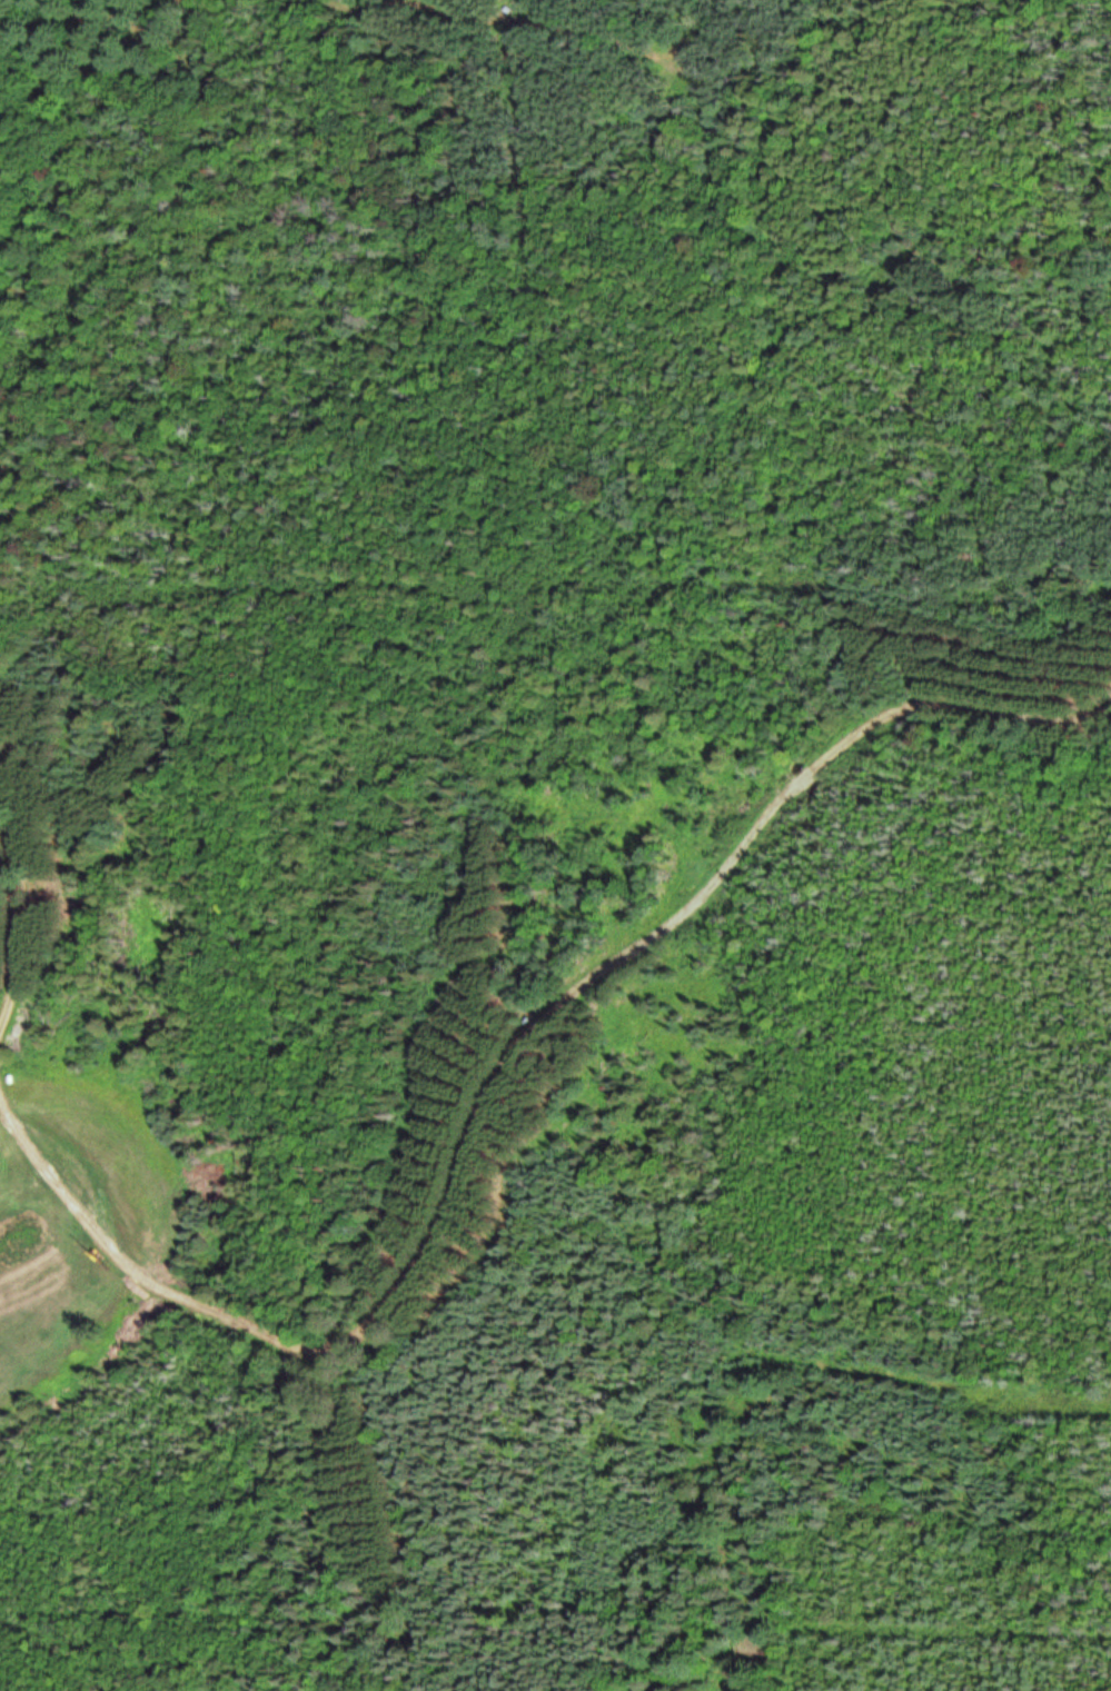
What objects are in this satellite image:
road: (17, 927)
road: (496, 1078)

